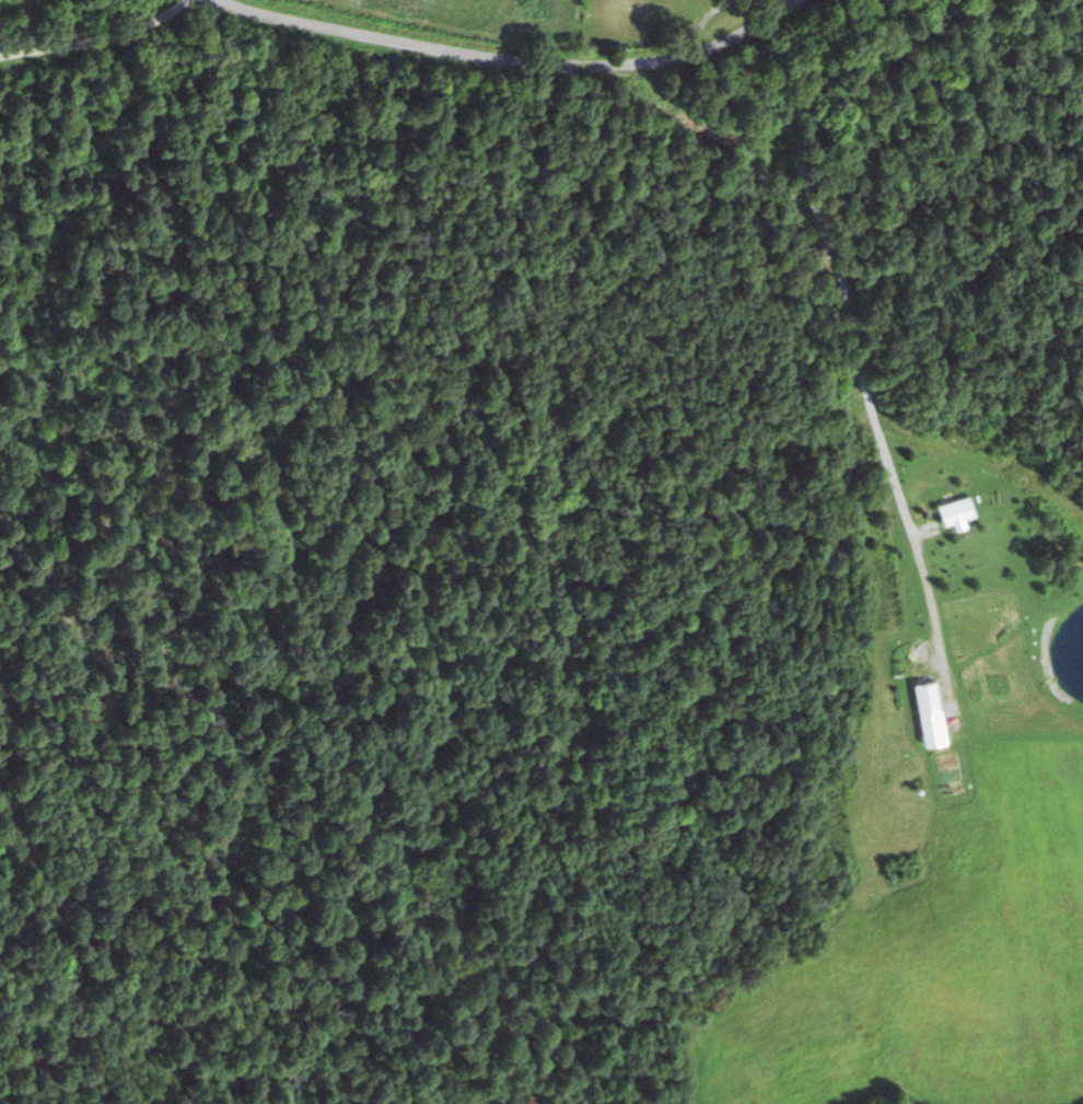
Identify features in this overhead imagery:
road: (98, 38)
road: (512, 63)

